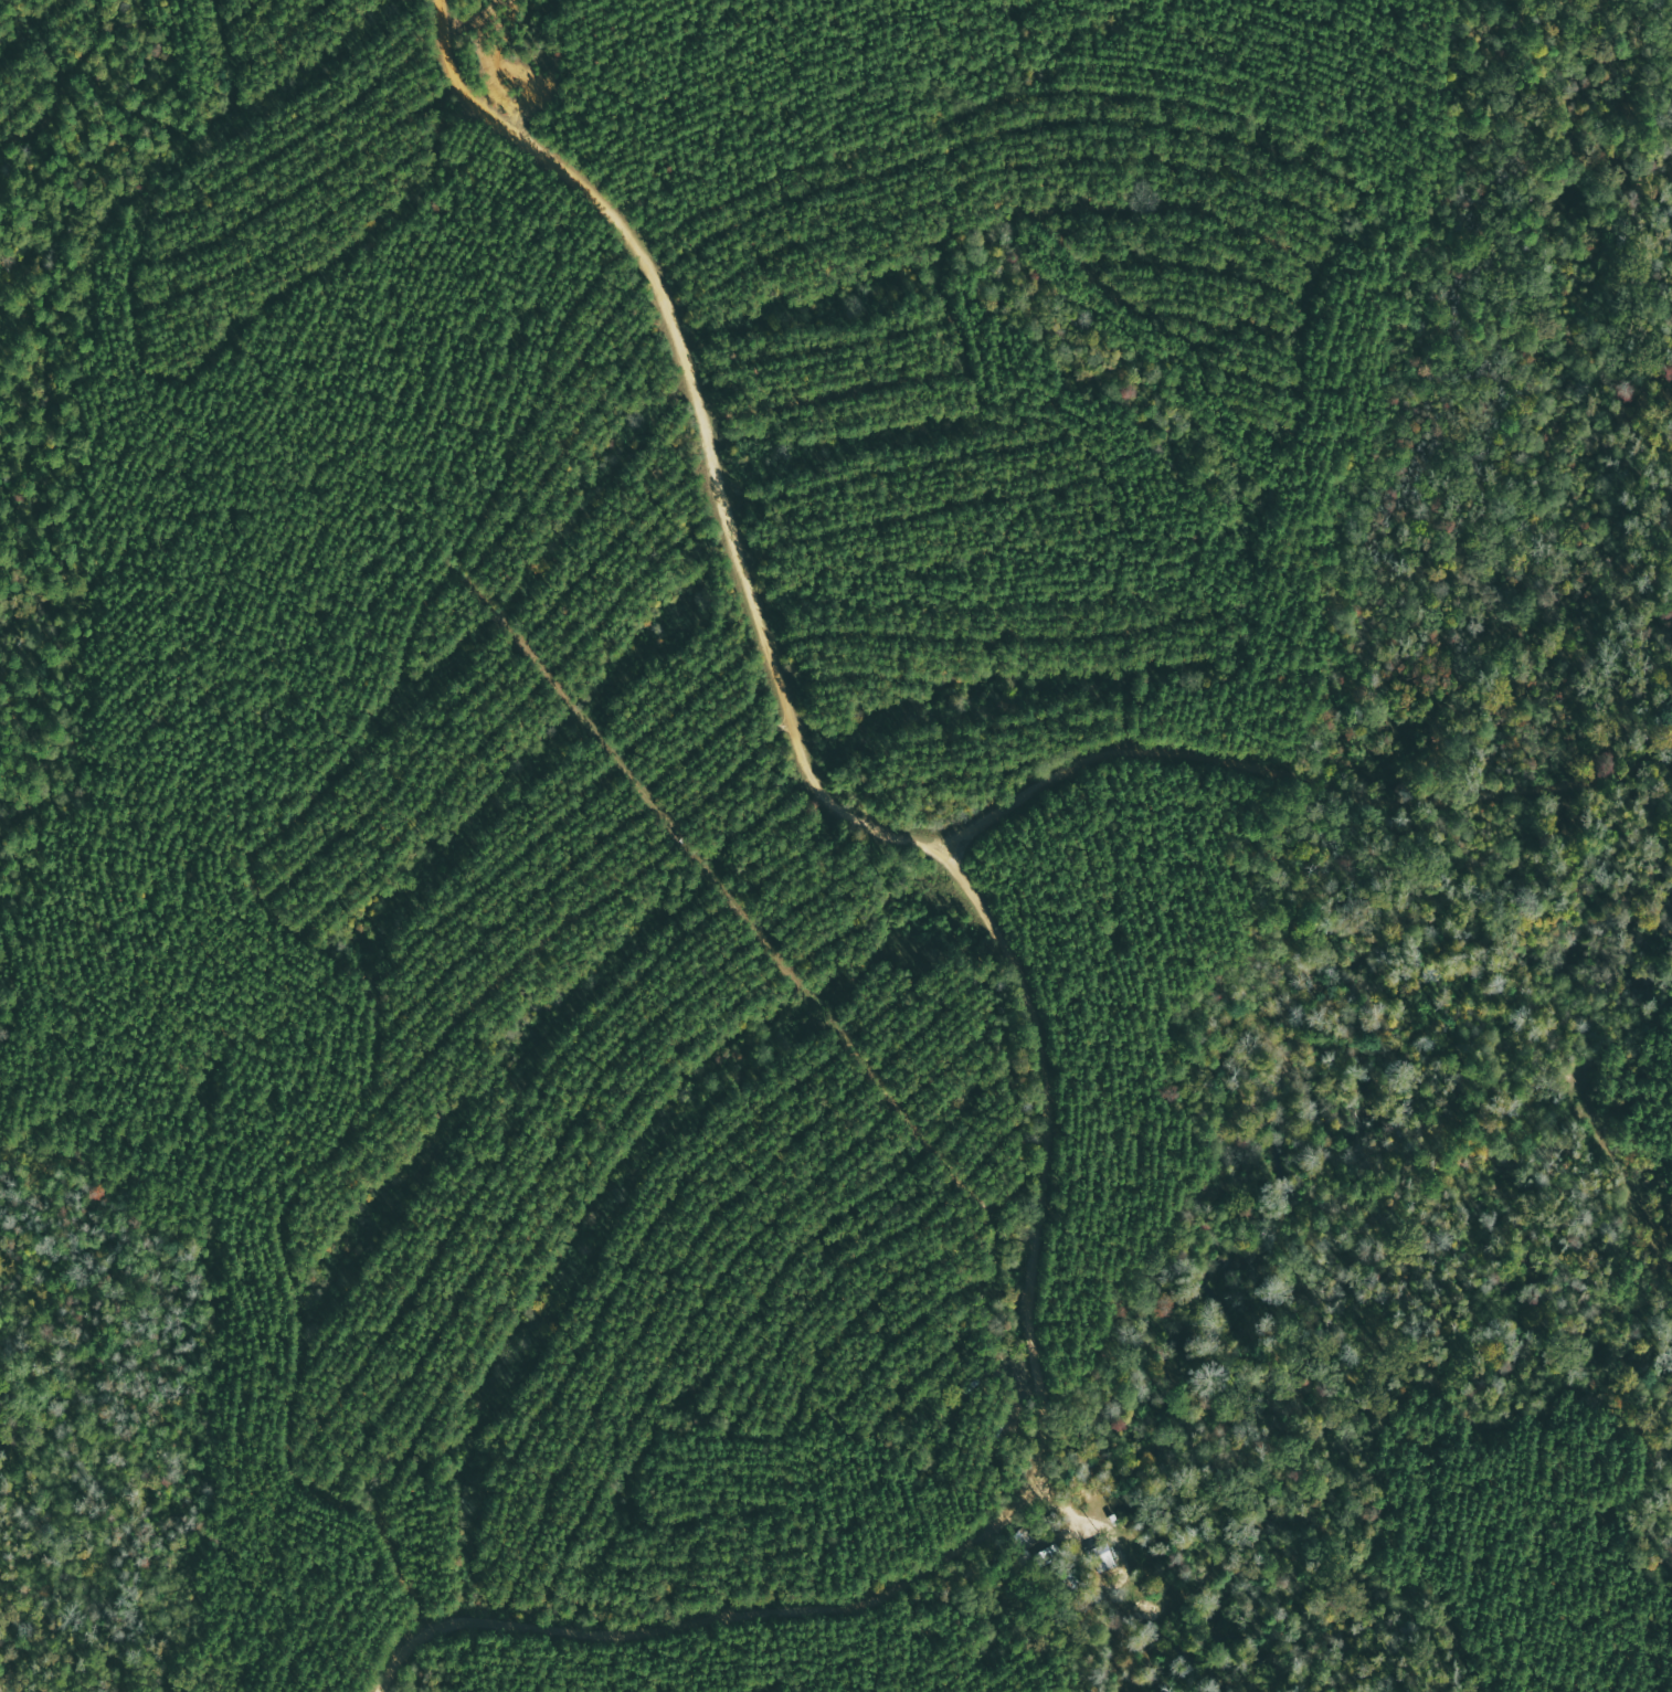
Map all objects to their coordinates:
road: (722, 413)
road: (1010, 1097)
building: (1050, 1523)

